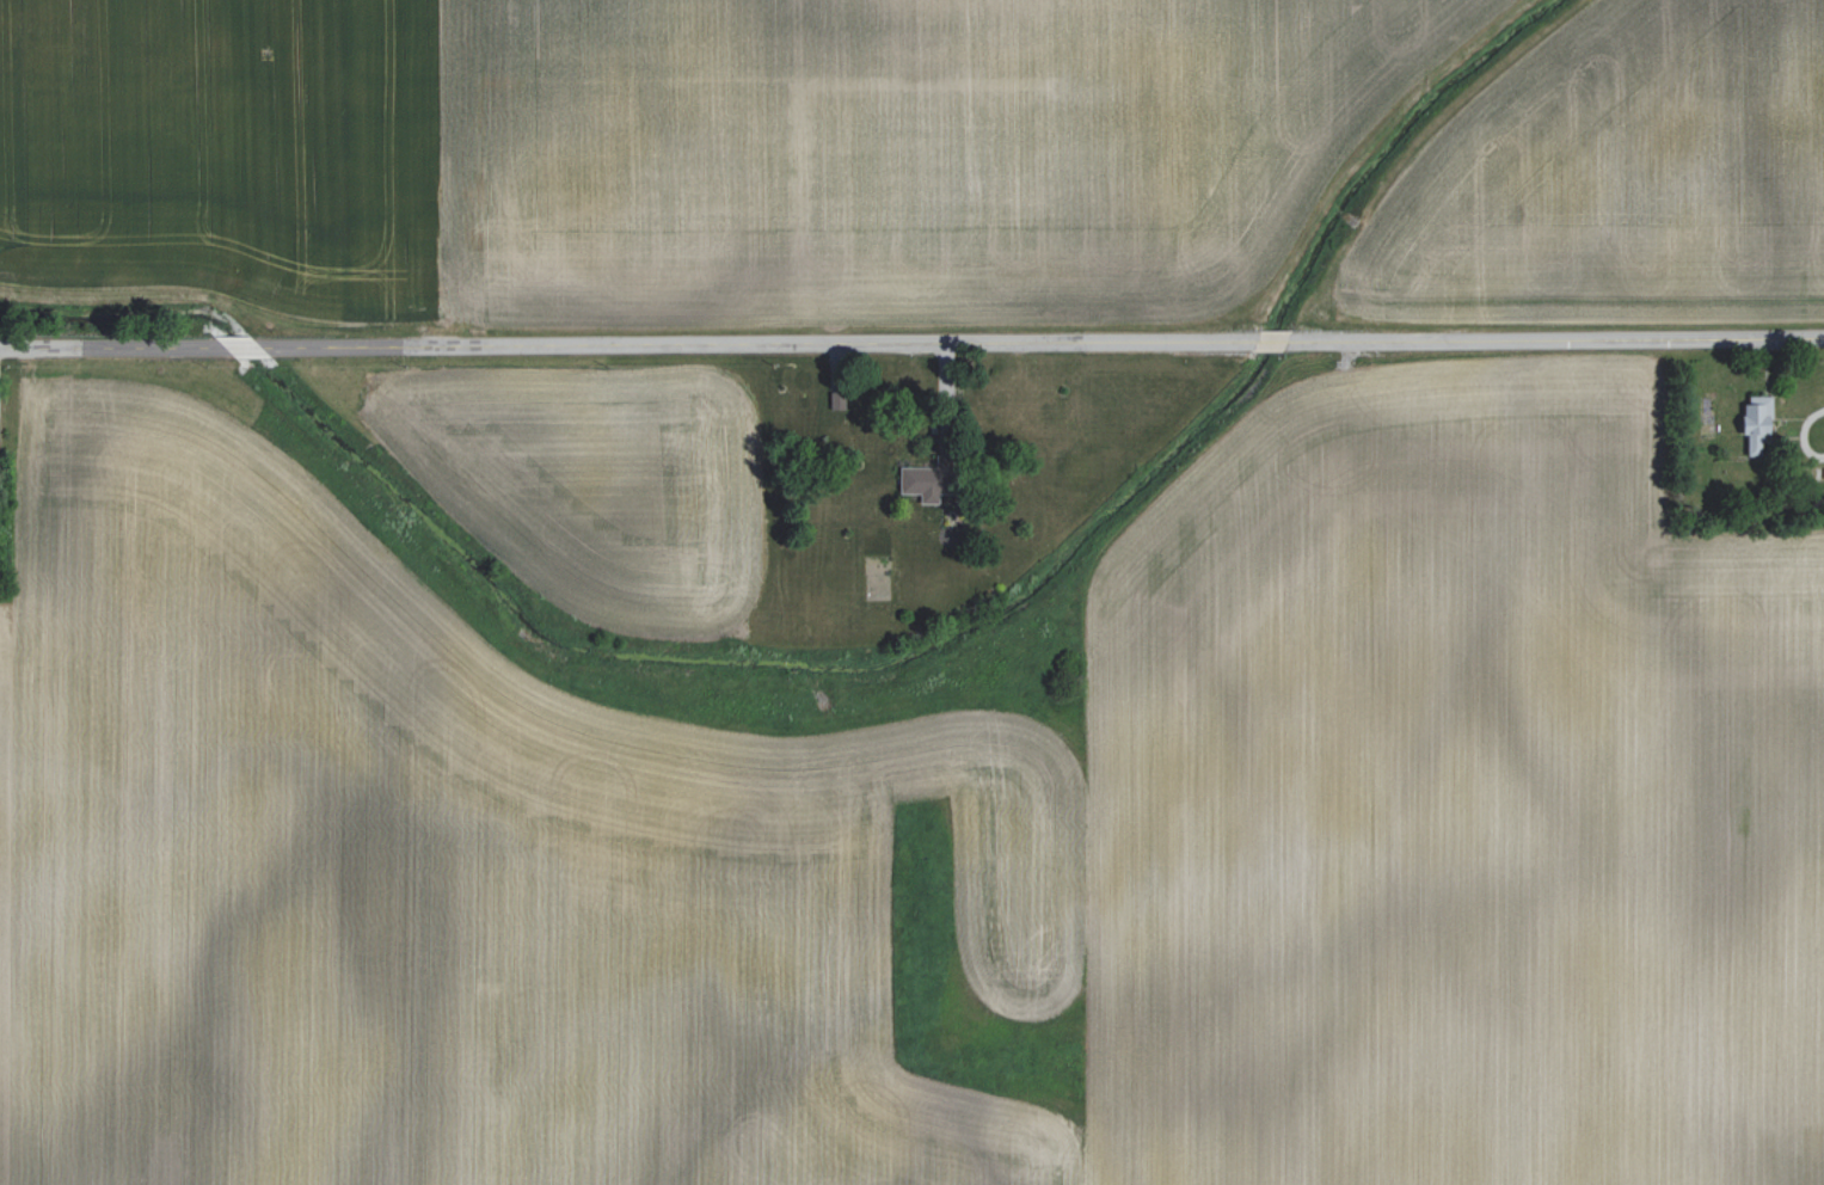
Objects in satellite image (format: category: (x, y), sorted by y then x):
road: (911, 338)

